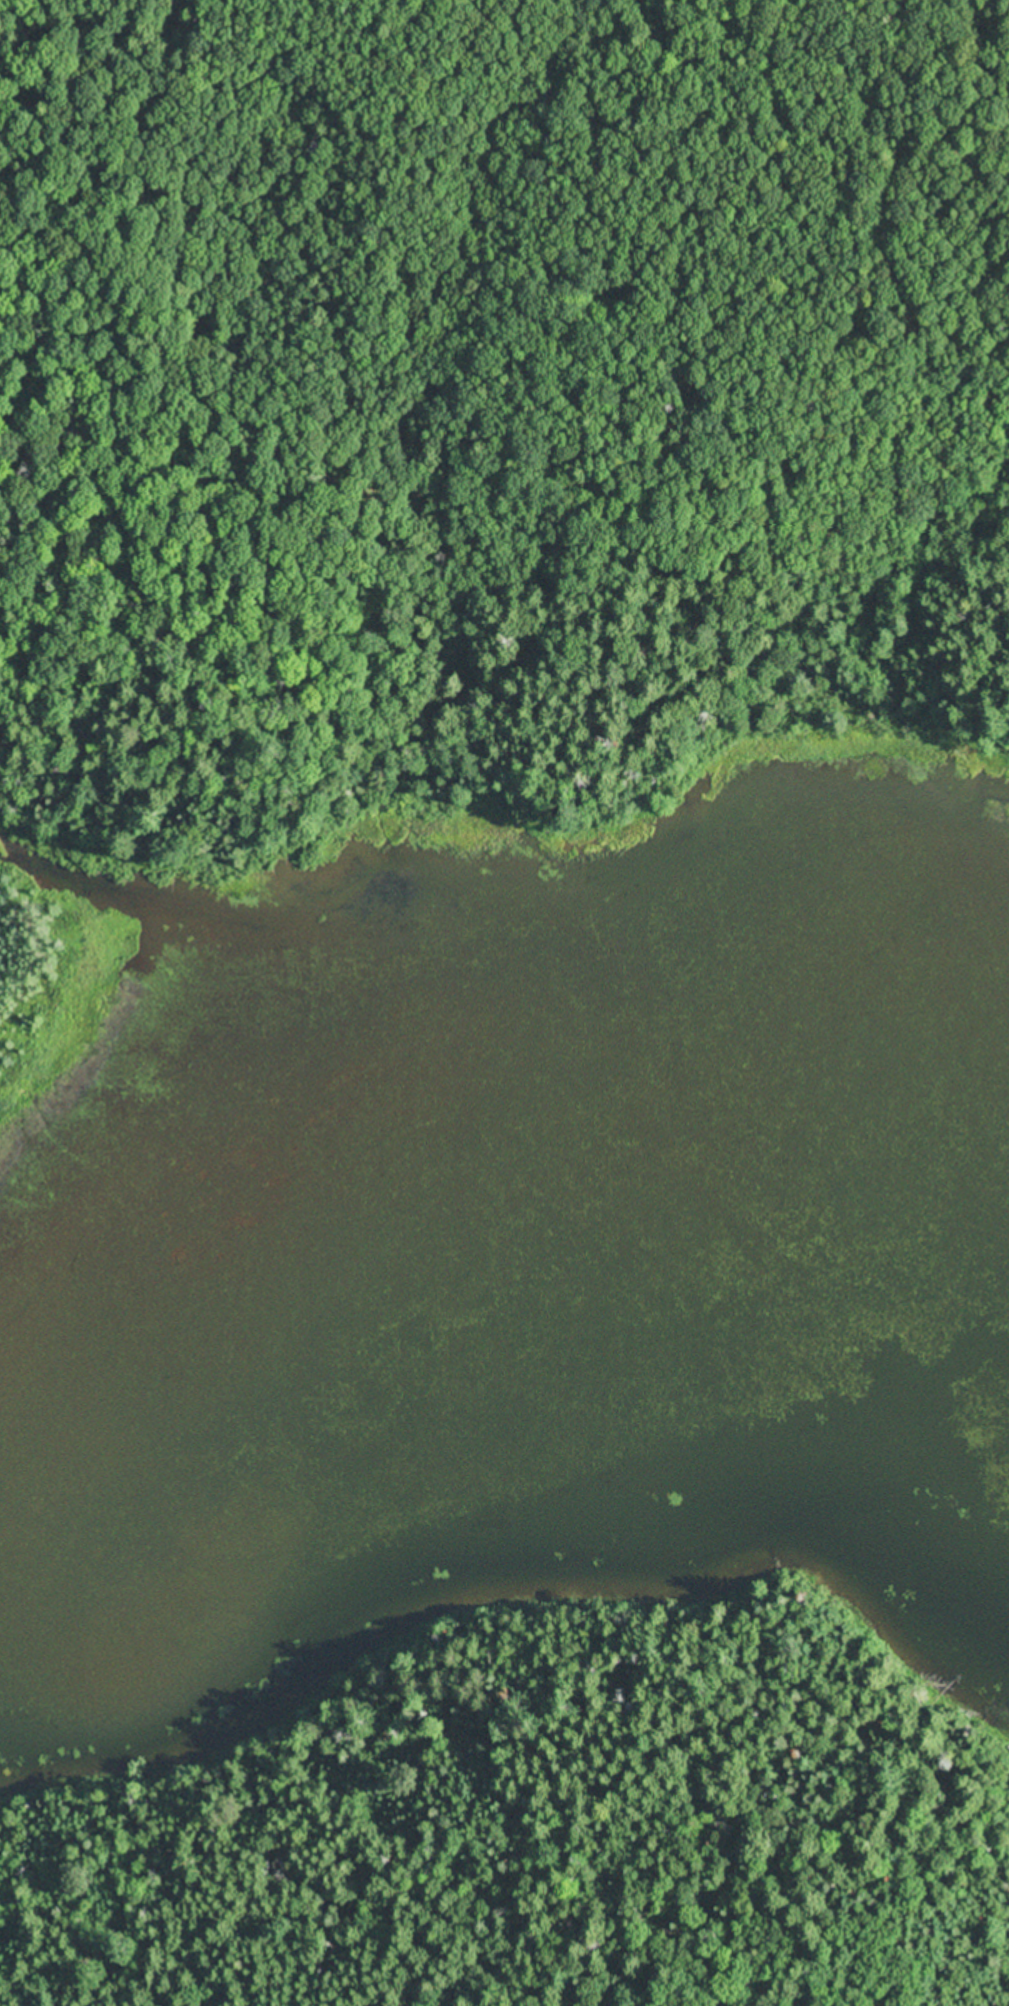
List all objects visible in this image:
road: (294, 681)

